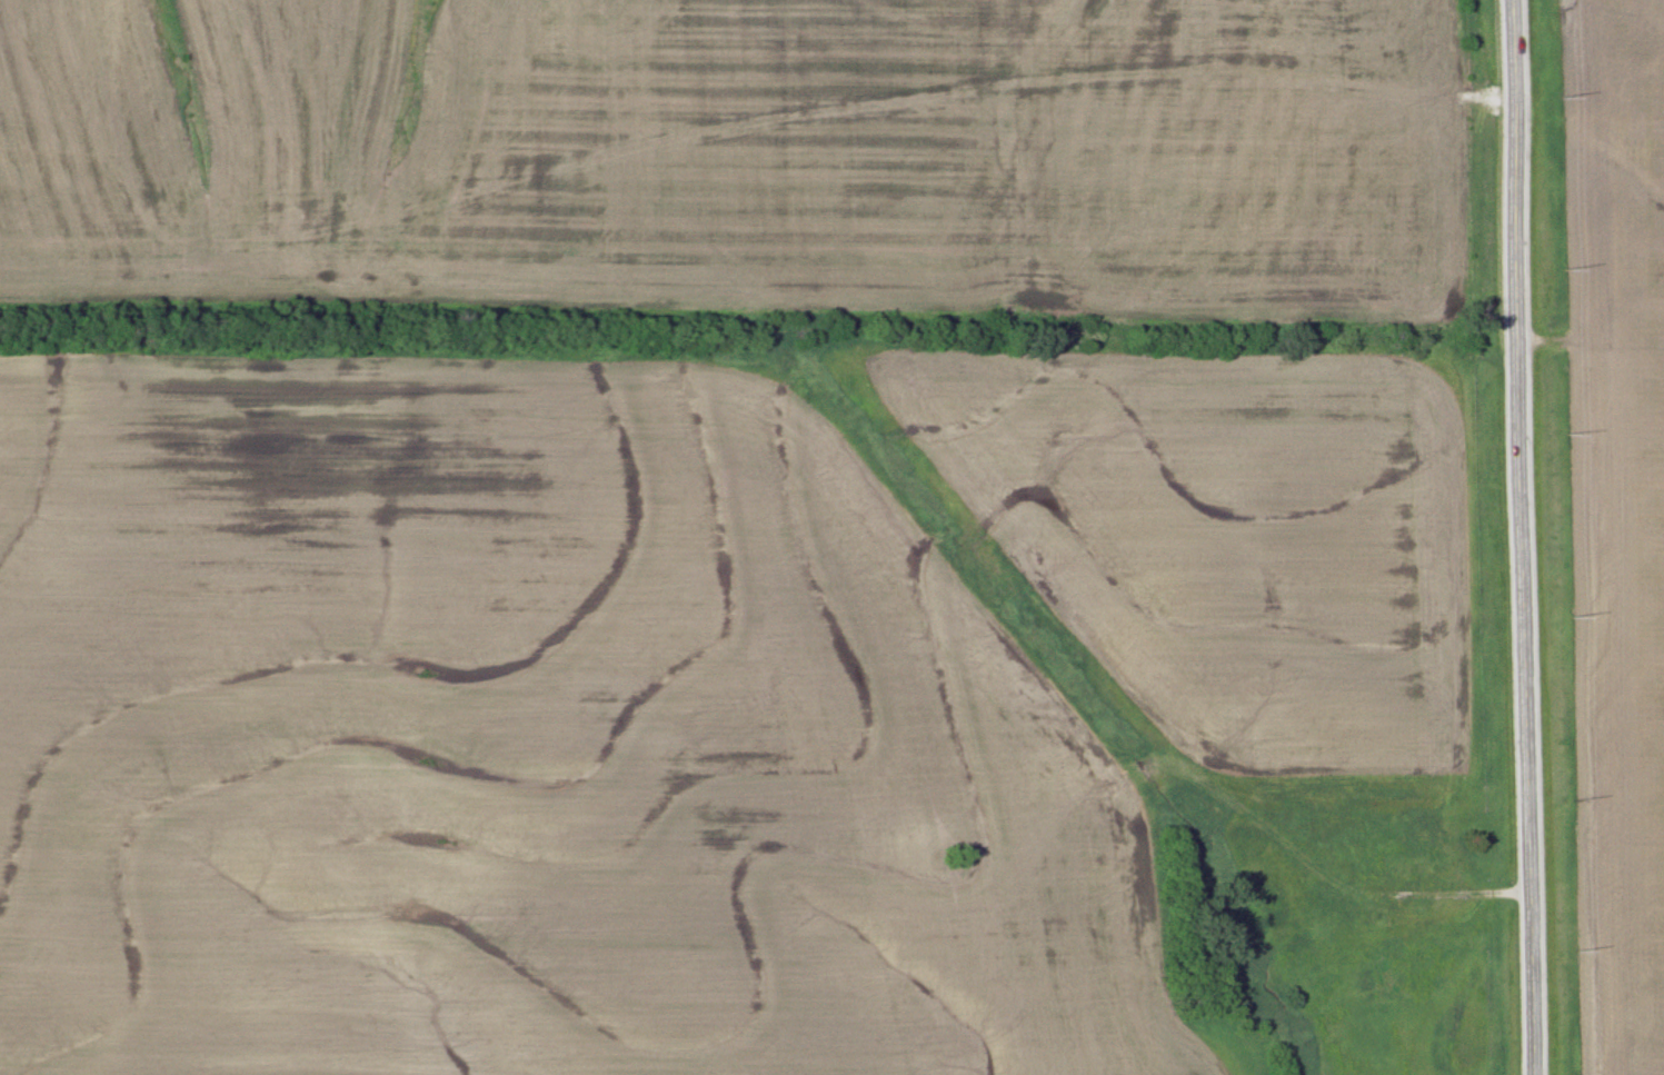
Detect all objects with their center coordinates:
road: (1521, 537)
road: (1456, 937)
building: (1392, 972)

